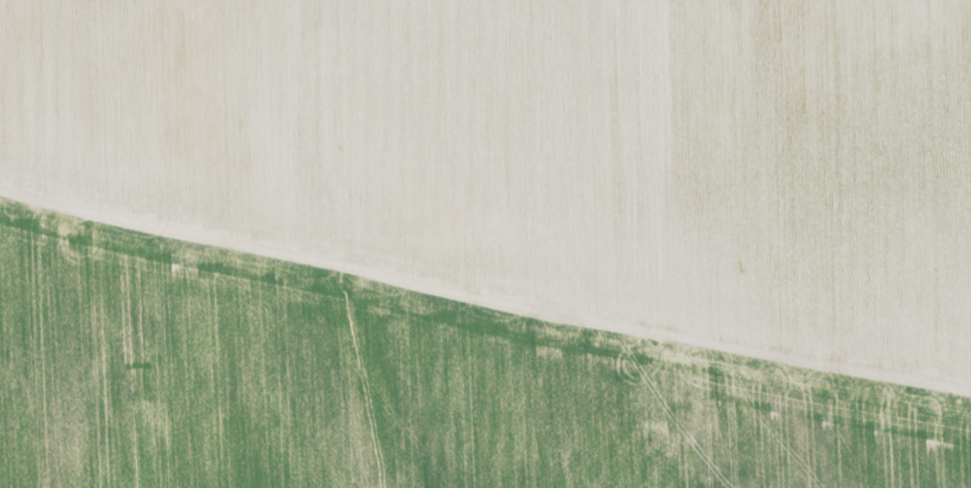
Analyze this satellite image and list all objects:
road: (484, 277)

